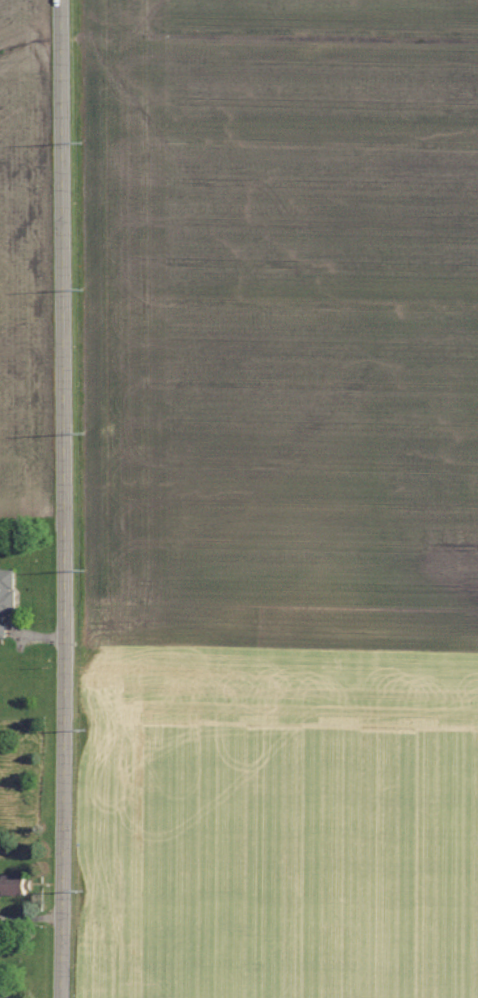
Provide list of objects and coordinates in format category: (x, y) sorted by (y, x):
road: (64, 498)
building: (7, 598)
building: (15, 885)

